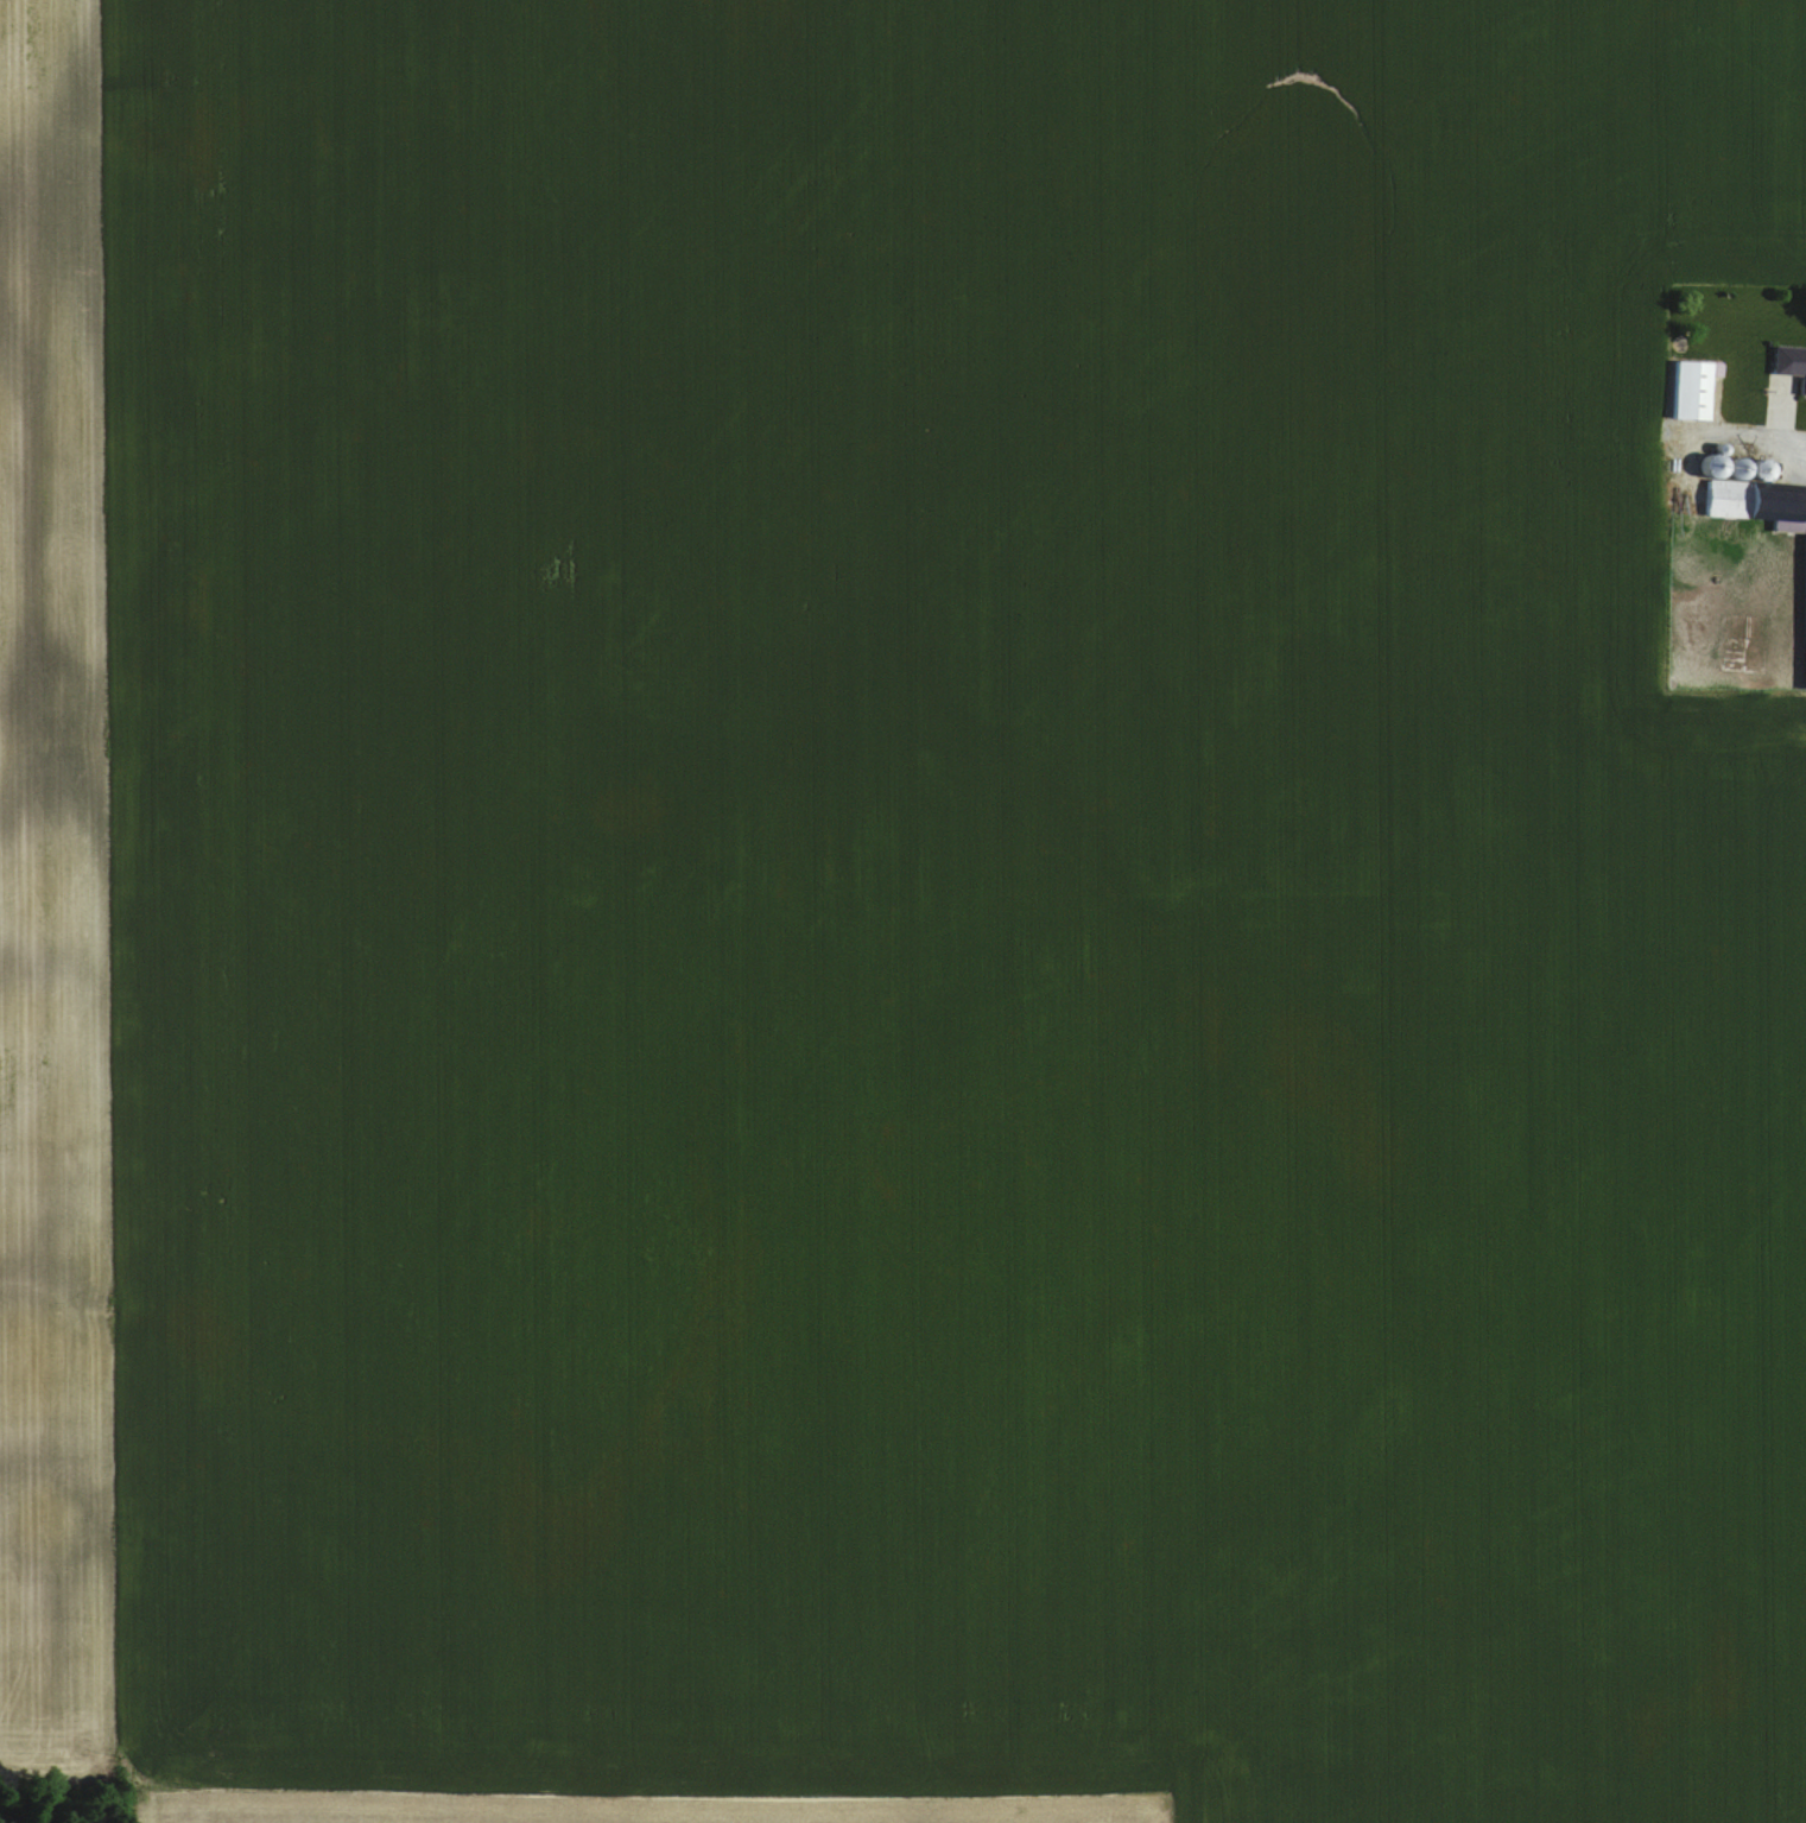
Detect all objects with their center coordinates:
building: (1684, 386)
road: (1749, 435)
building: (1716, 488)
building: (1799, 566)

